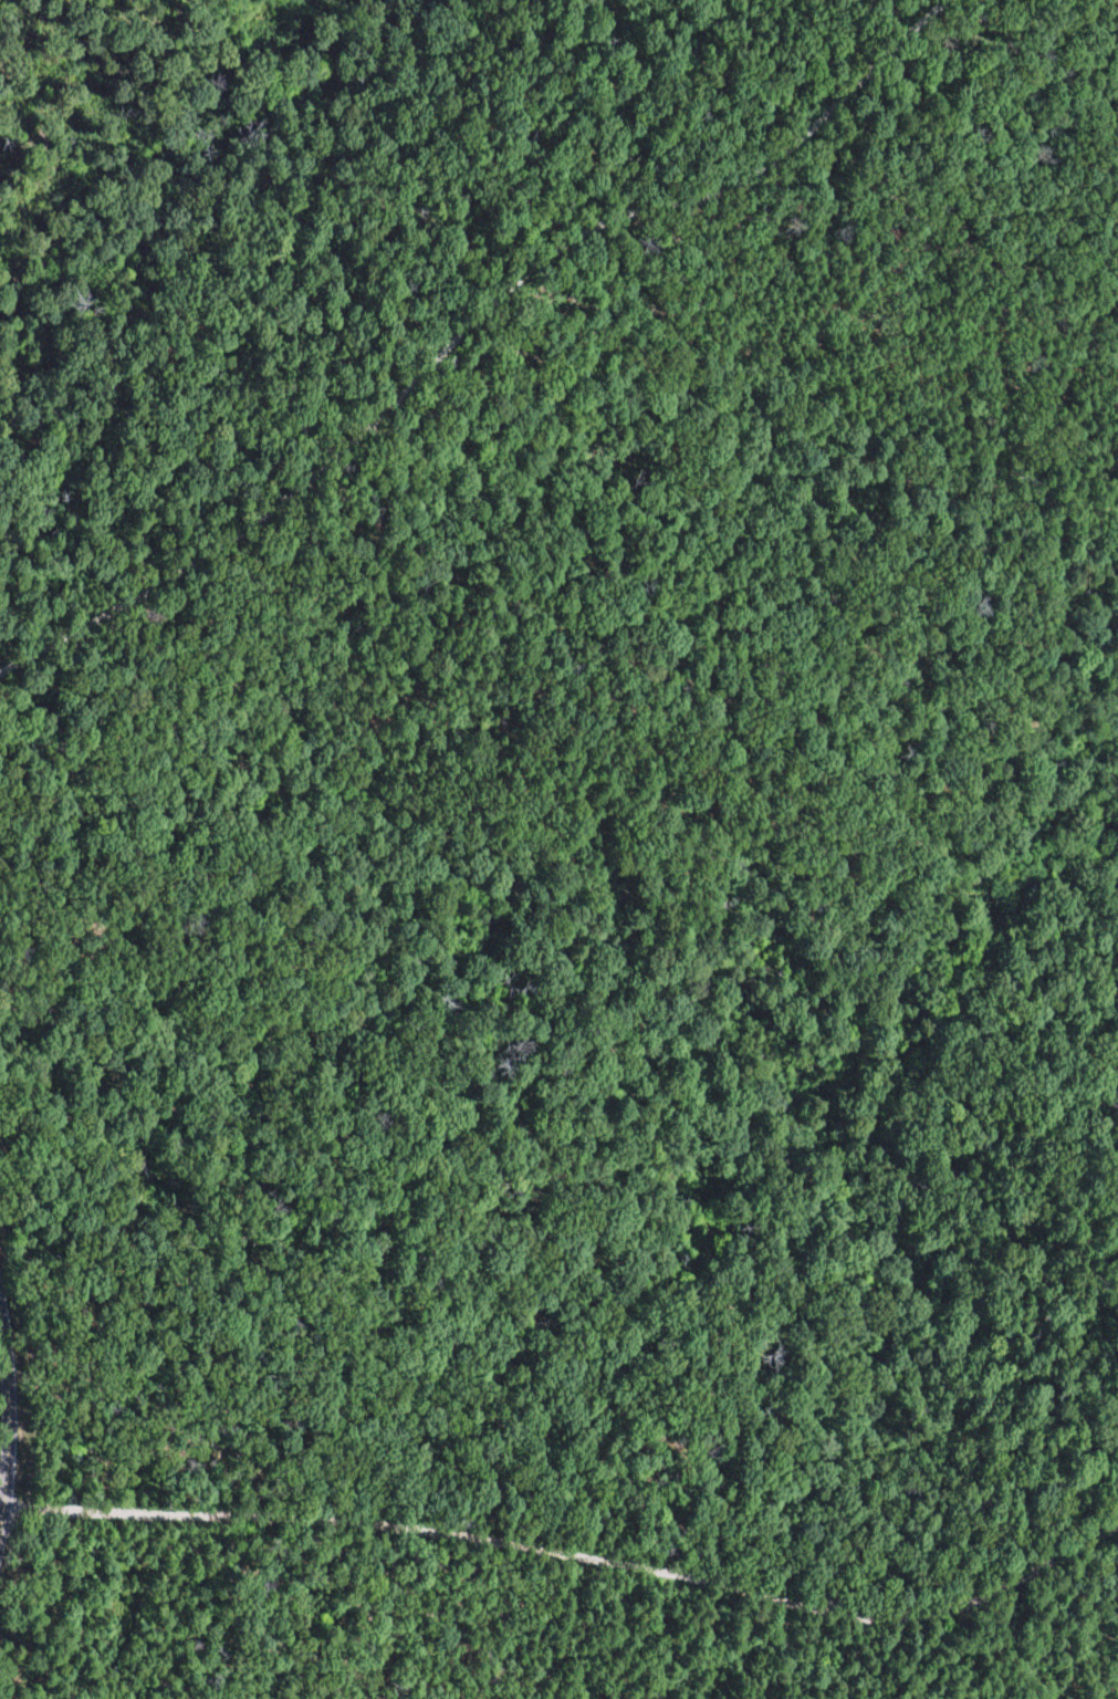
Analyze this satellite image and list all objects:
road: (470, 315)
road: (7, 1455)
road: (568, 1586)

